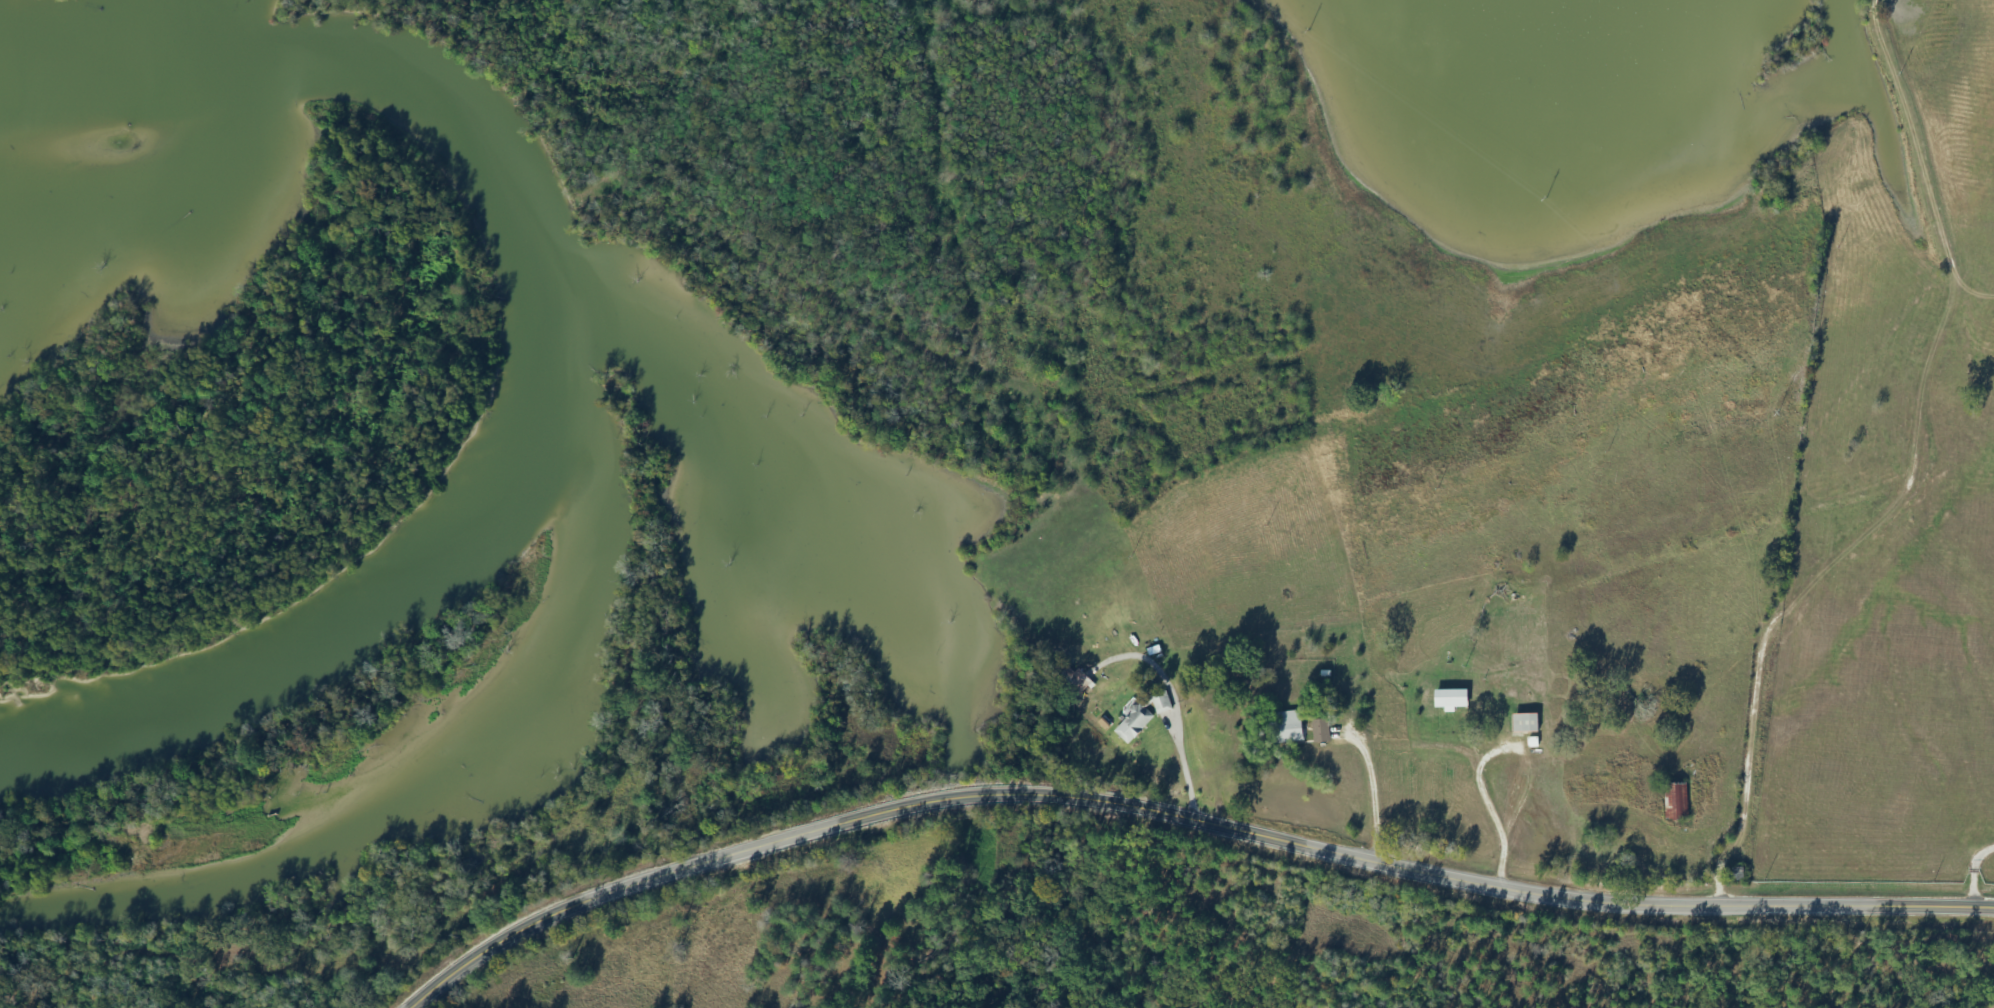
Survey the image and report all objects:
building: (1073, 681)
building: (1447, 699)
building: (1145, 713)
building: (1523, 723)
building: (1282, 728)
building: (1674, 802)
road: (1183, 819)
building: (1735, 874)
road: (1981, 900)

